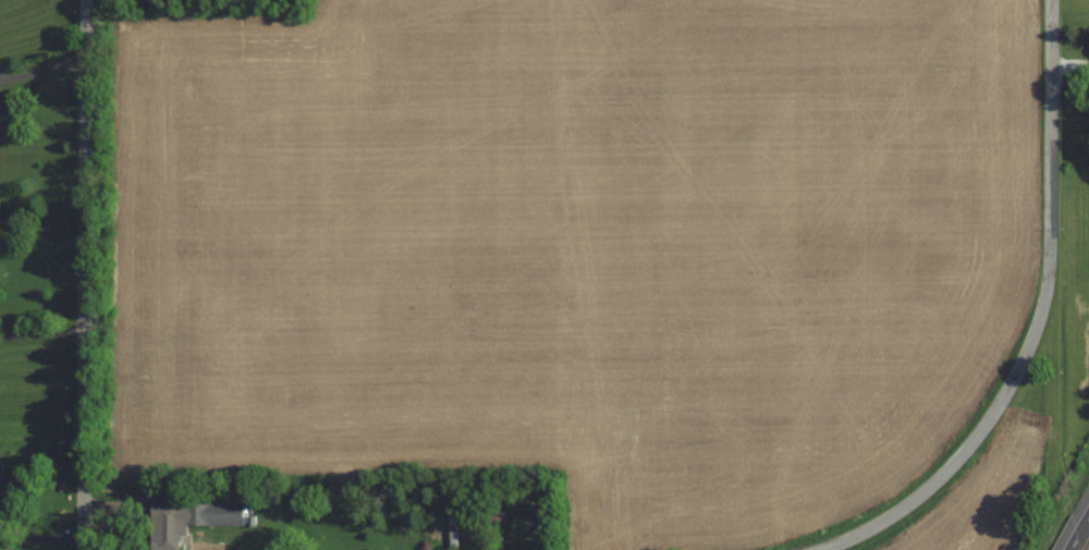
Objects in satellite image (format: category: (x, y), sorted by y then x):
road: (1070, 63)
road: (44, 69)
road: (85, 274)
road: (1040, 322)
road: (42, 332)
building: (7, 494)
building: (488, 516)
building: (188, 521)
road: (1079, 534)
road: (41, 536)

